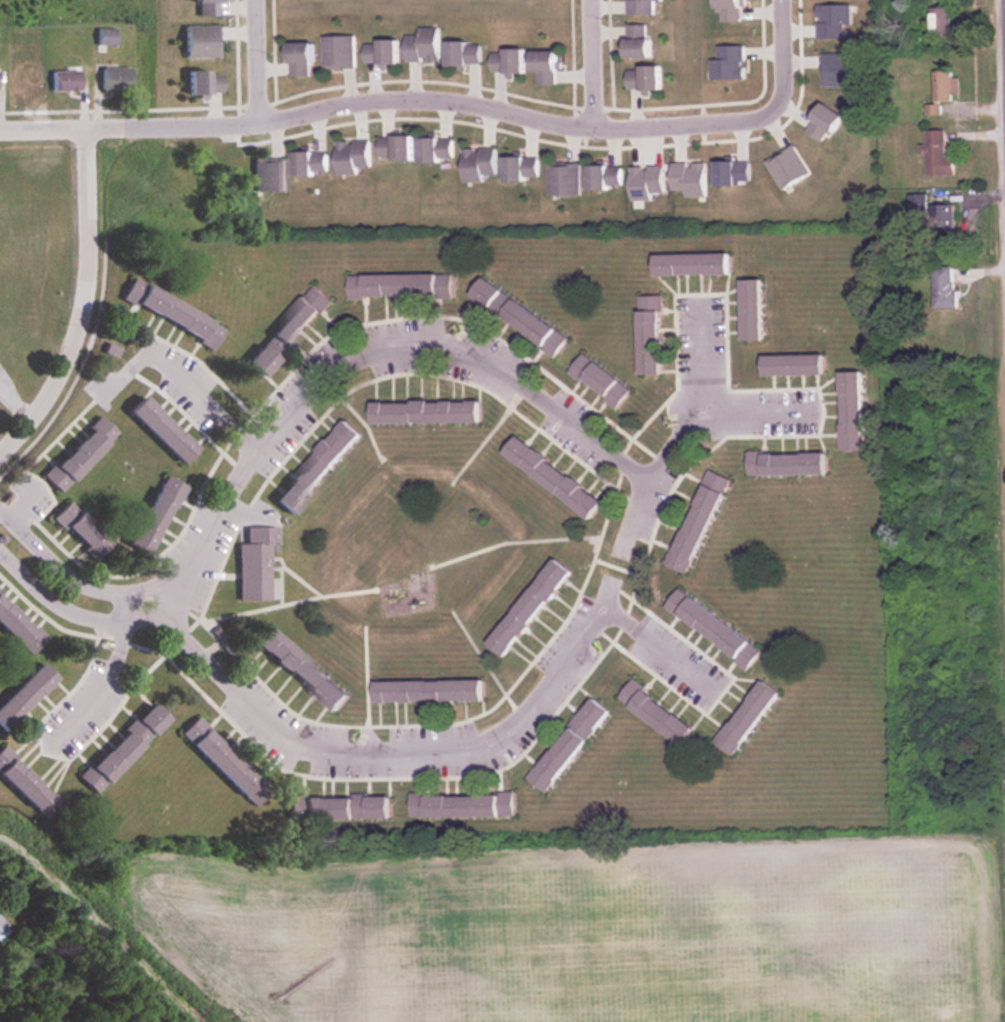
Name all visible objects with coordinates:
building: (204, 7)
building: (642, 7)
building: (941, 22)
building: (103, 37)
building: (635, 41)
building: (198, 42)
building: (421, 45)
building: (337, 52)
building: (379, 52)
building: (462, 53)
building: (297, 59)
building: (505, 61)
road: (1003, 61)
building: (543, 67)
road: (252, 68)
road: (586, 73)
building: (642, 78)
building: (23, 81)
building: (64, 81)
building: (113, 81)
building: (202, 83)
building: (943, 90)
road: (775, 100)
road: (392, 115)
road: (44, 131)
building: (393, 147)
building: (434, 149)
building: (936, 154)
building: (351, 156)
building: (308, 163)
building: (477, 164)
building: (519, 168)
building: (267, 174)
building: (602, 176)
building: (563, 179)
building: (942, 219)
building: (690, 264)
building: (400, 285)
building: (943, 287)
road: (84, 304)
building: (750, 309)
building: (170, 313)
building: (518, 317)
building: (286, 330)
building: (648, 335)
road: (366, 353)
building: (791, 364)
building: (599, 380)
road: (203, 396)
road: (703, 400)
road: (763, 410)
building: (850, 410)
building: (423, 412)
building: (157, 429)
building: (77, 454)
building: (785, 463)
building: (314, 467)
building: (551, 477)
road: (635, 514)
building: (151, 515)
building: (697, 521)
building: (79, 530)
building: (253, 564)
building: (527, 608)
building: (712, 629)
building: (17, 631)
road: (661, 650)
building: (297, 671)
road: (105, 676)
building: (426, 692)
building: (21, 694)
building: (654, 714)
building: (745, 718)
road: (301, 745)
building: (567, 745)
building: (118, 748)
building: (221, 763)
building: (22, 786)
building: (461, 806)
building: (337, 808)
building: (103, 1015)

